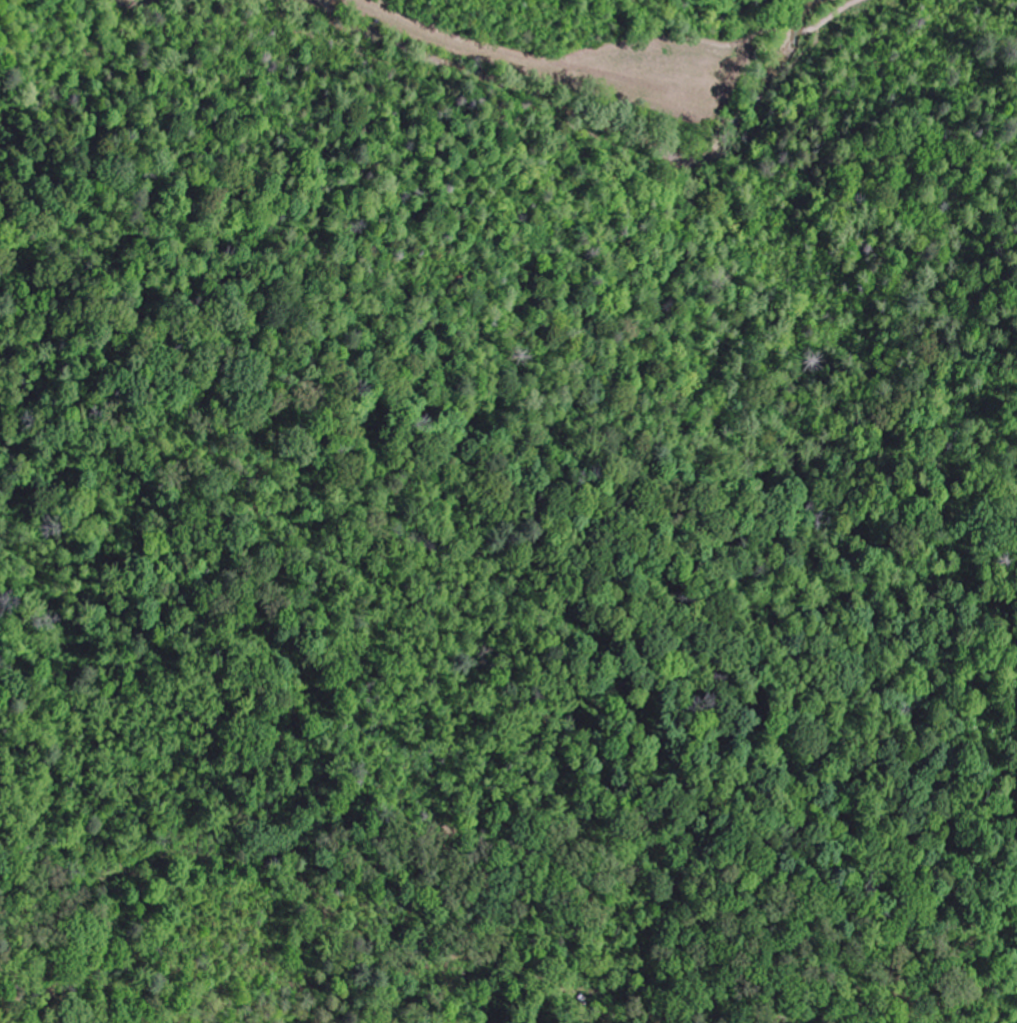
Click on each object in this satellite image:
road: (312, 905)

